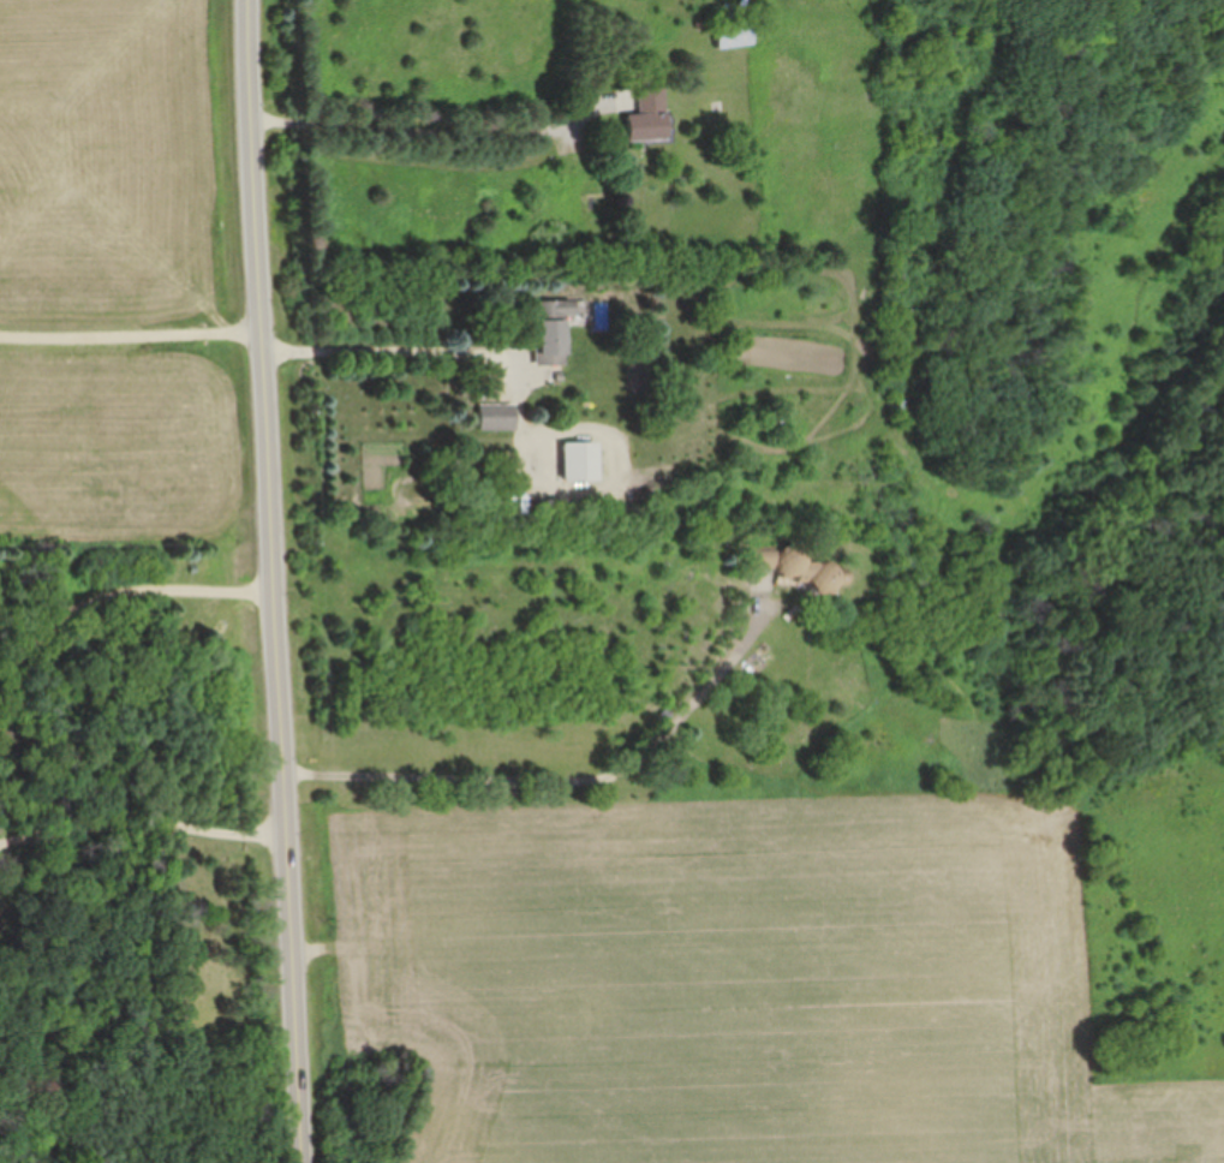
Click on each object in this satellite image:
building: (728, 35)
building: (643, 117)
road: (431, 129)
road: (132, 329)
building: (548, 329)
road: (399, 350)
building: (492, 417)
building: (575, 460)
road: (1110, 461)
park: (1147, 509)
building: (787, 571)
road: (279, 580)
road: (121, 594)
road: (569, 780)
road: (143, 823)

